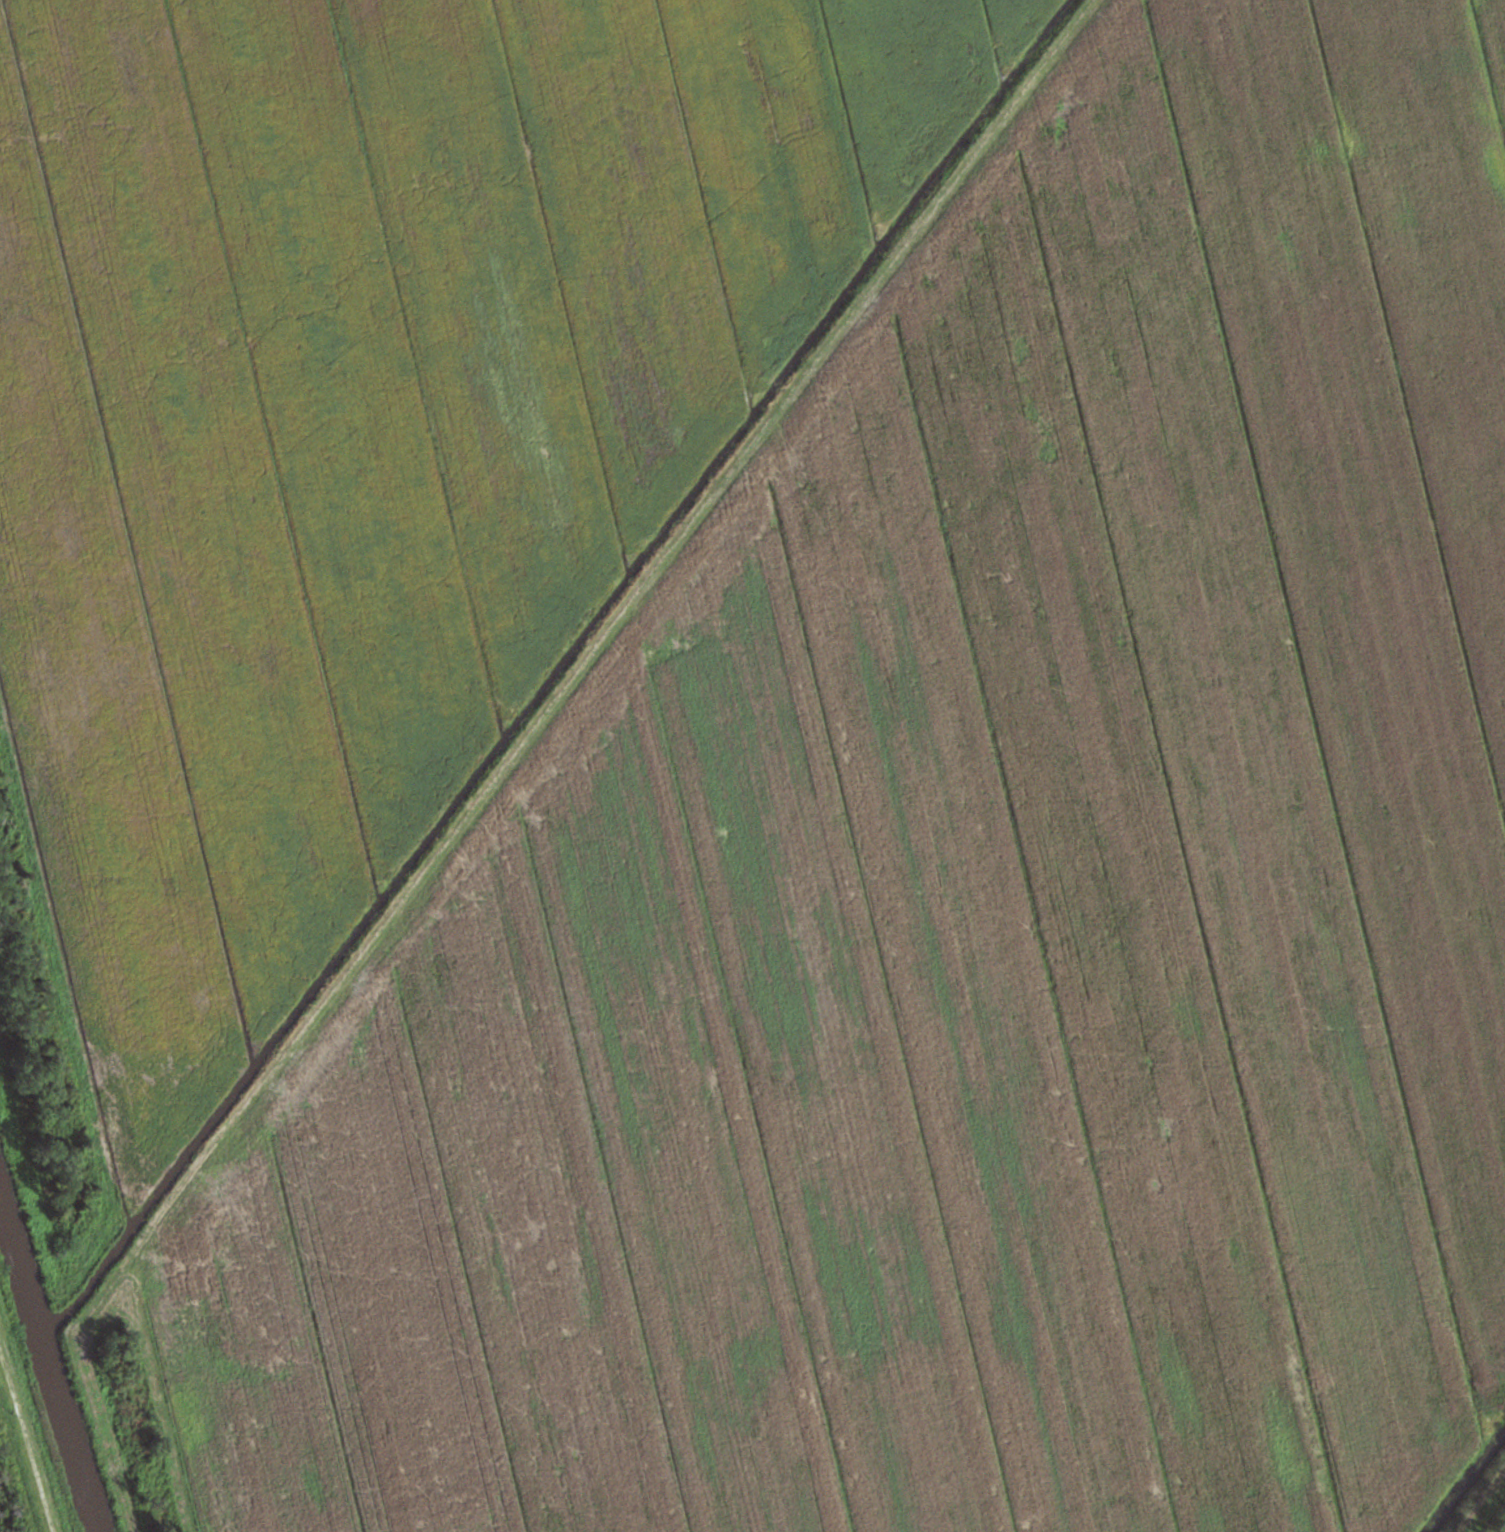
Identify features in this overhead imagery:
crop: (373, 420)
road: (630, 605)
crop: (971, 902)
road: (26, 1435)

